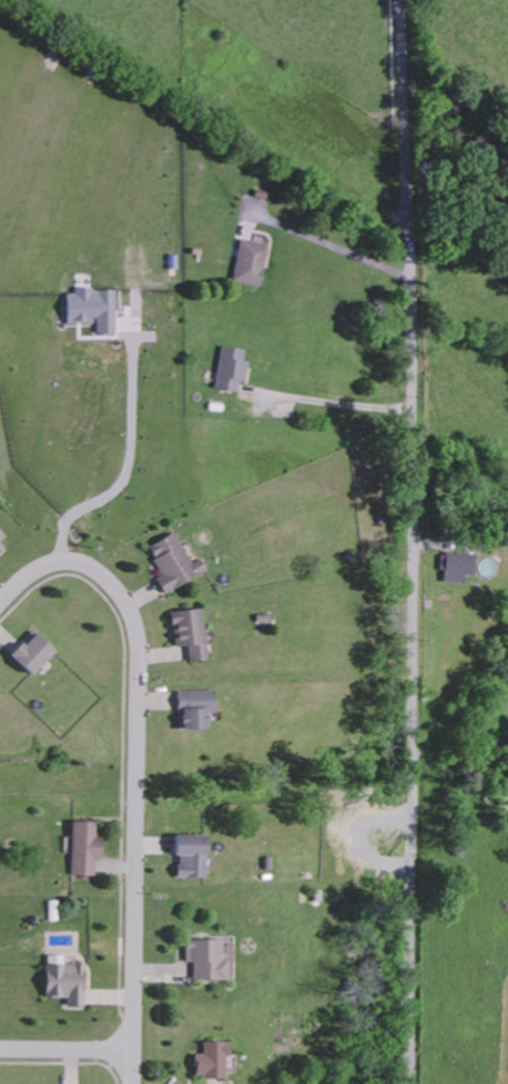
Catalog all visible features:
road: (328, 242)
building: (247, 261)
building: (89, 308)
building: (228, 369)
road: (343, 401)
road: (123, 466)
building: (0, 535)
road: (414, 541)
building: (0, 548)
building: (171, 562)
building: (186, 632)
building: (27, 653)
building: (190, 707)
road: (136, 762)
building: (81, 849)
building: (186, 855)
building: (202, 958)
building: (61, 983)
road: (67, 1050)
building: (206, 1062)

